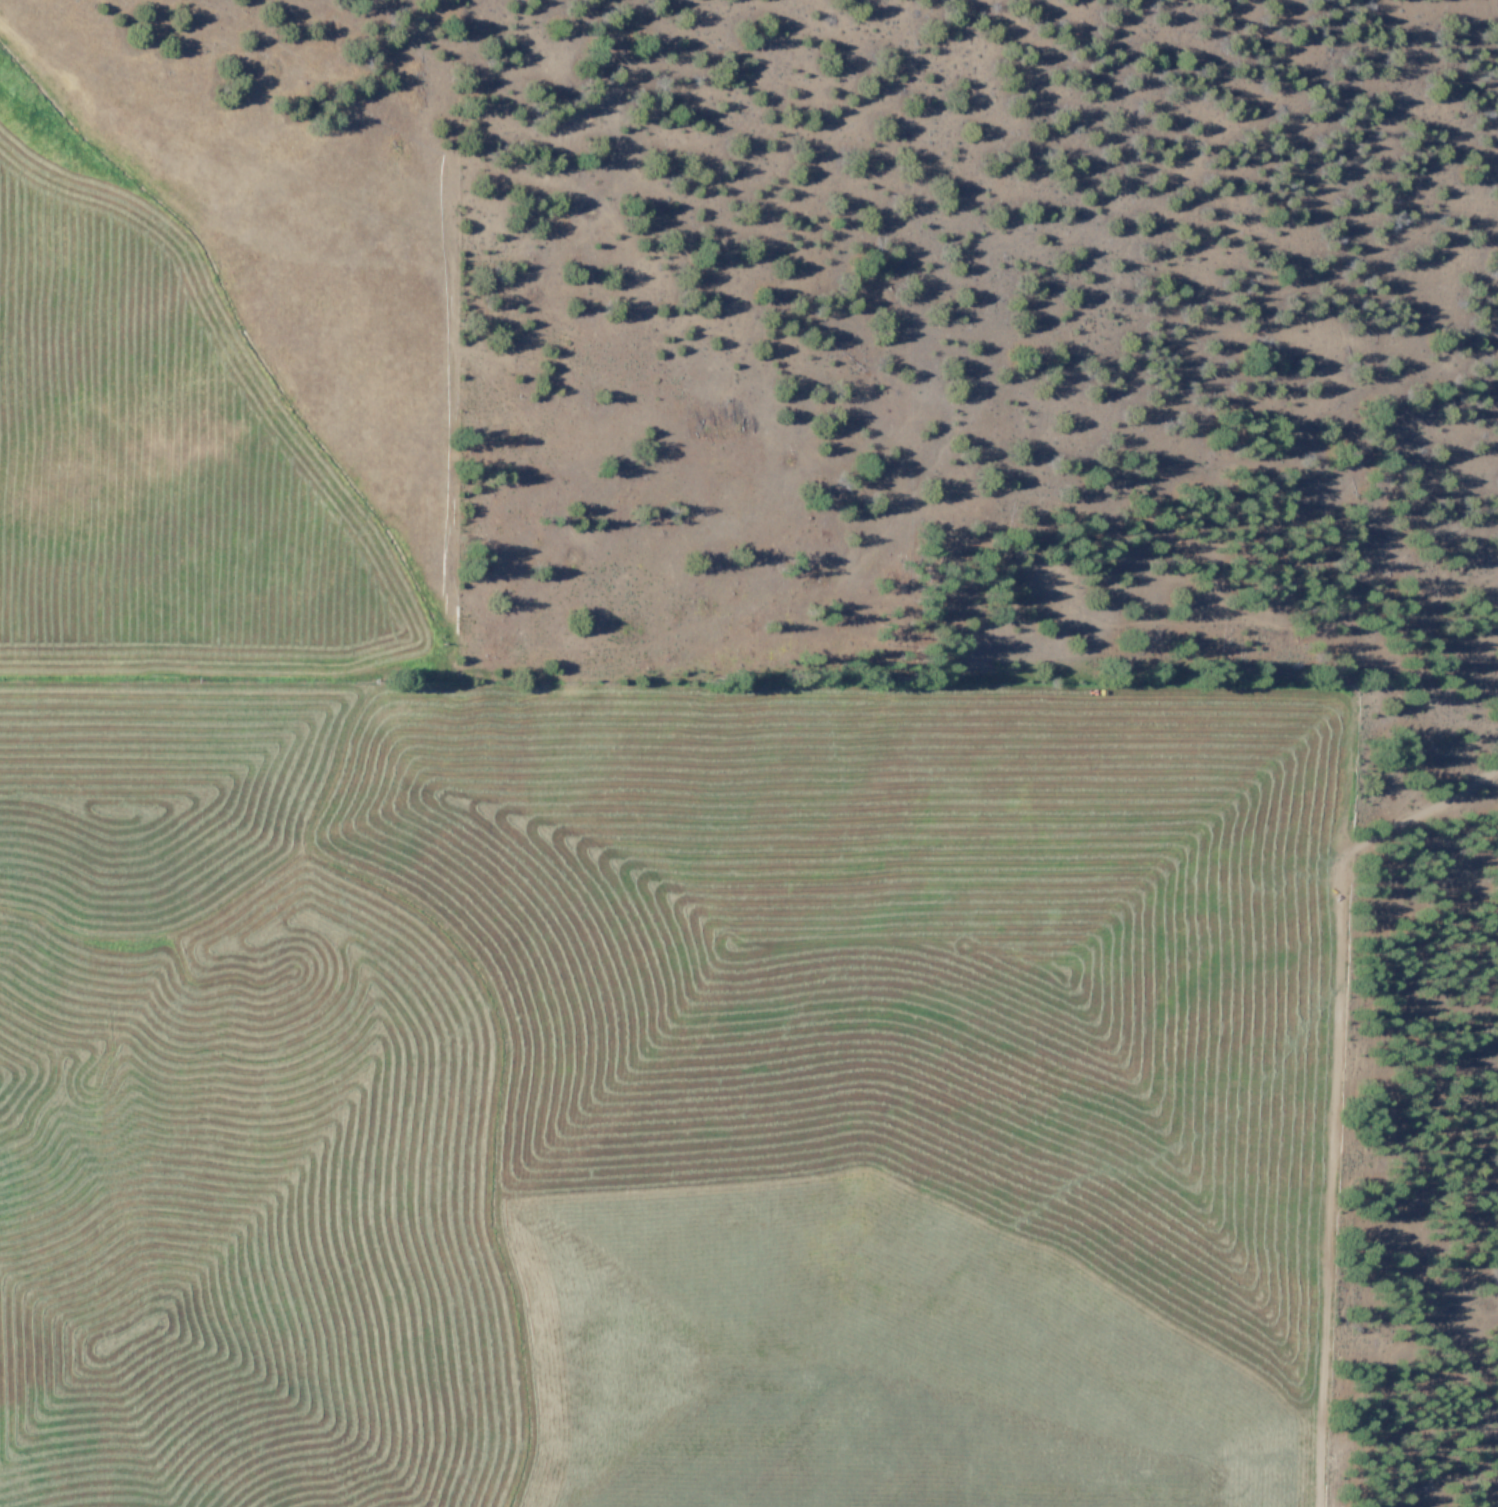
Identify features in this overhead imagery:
road: (1413, 813)

